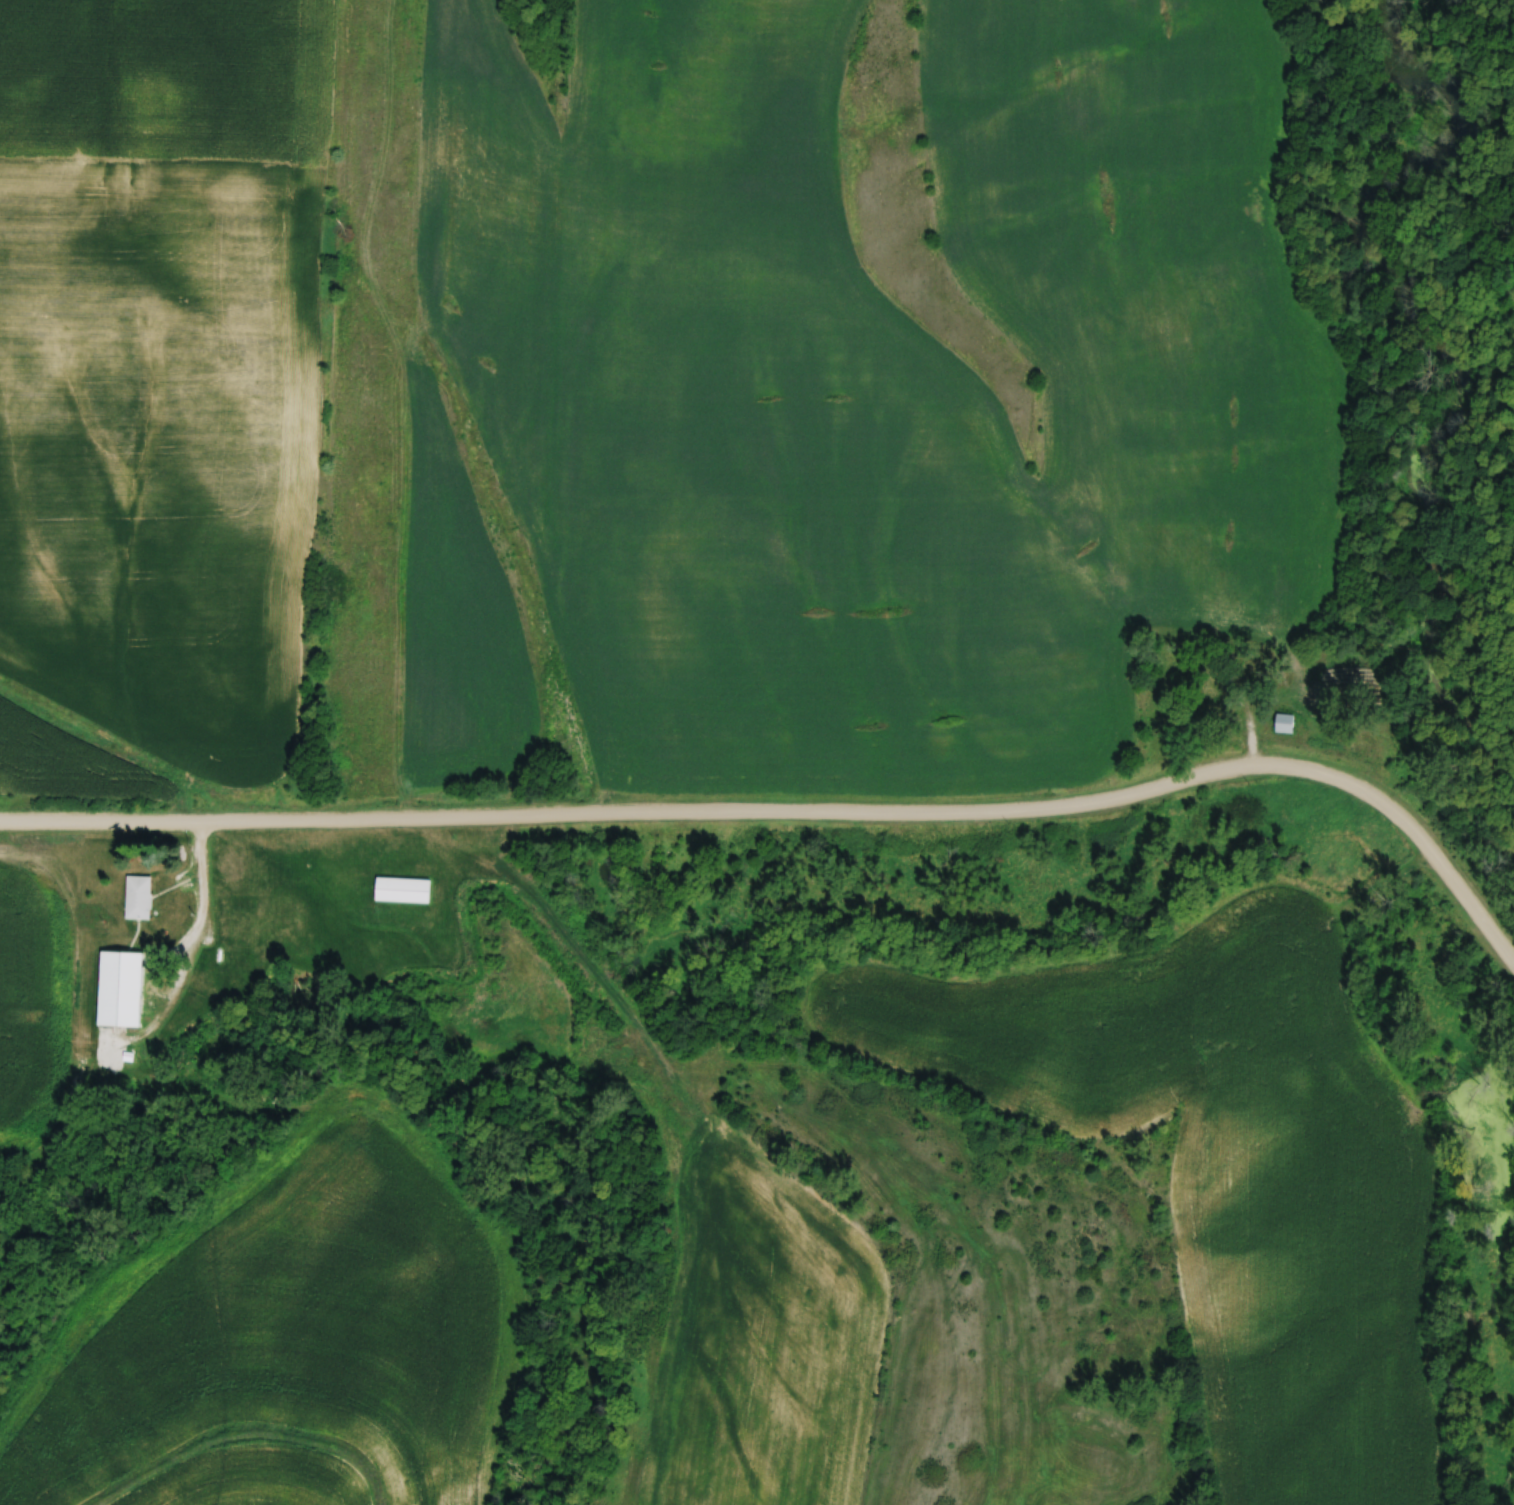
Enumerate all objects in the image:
building: (1285, 724)
road: (798, 813)
building: (403, 889)
building: (138, 897)
road: (199, 919)
building: (120, 988)

